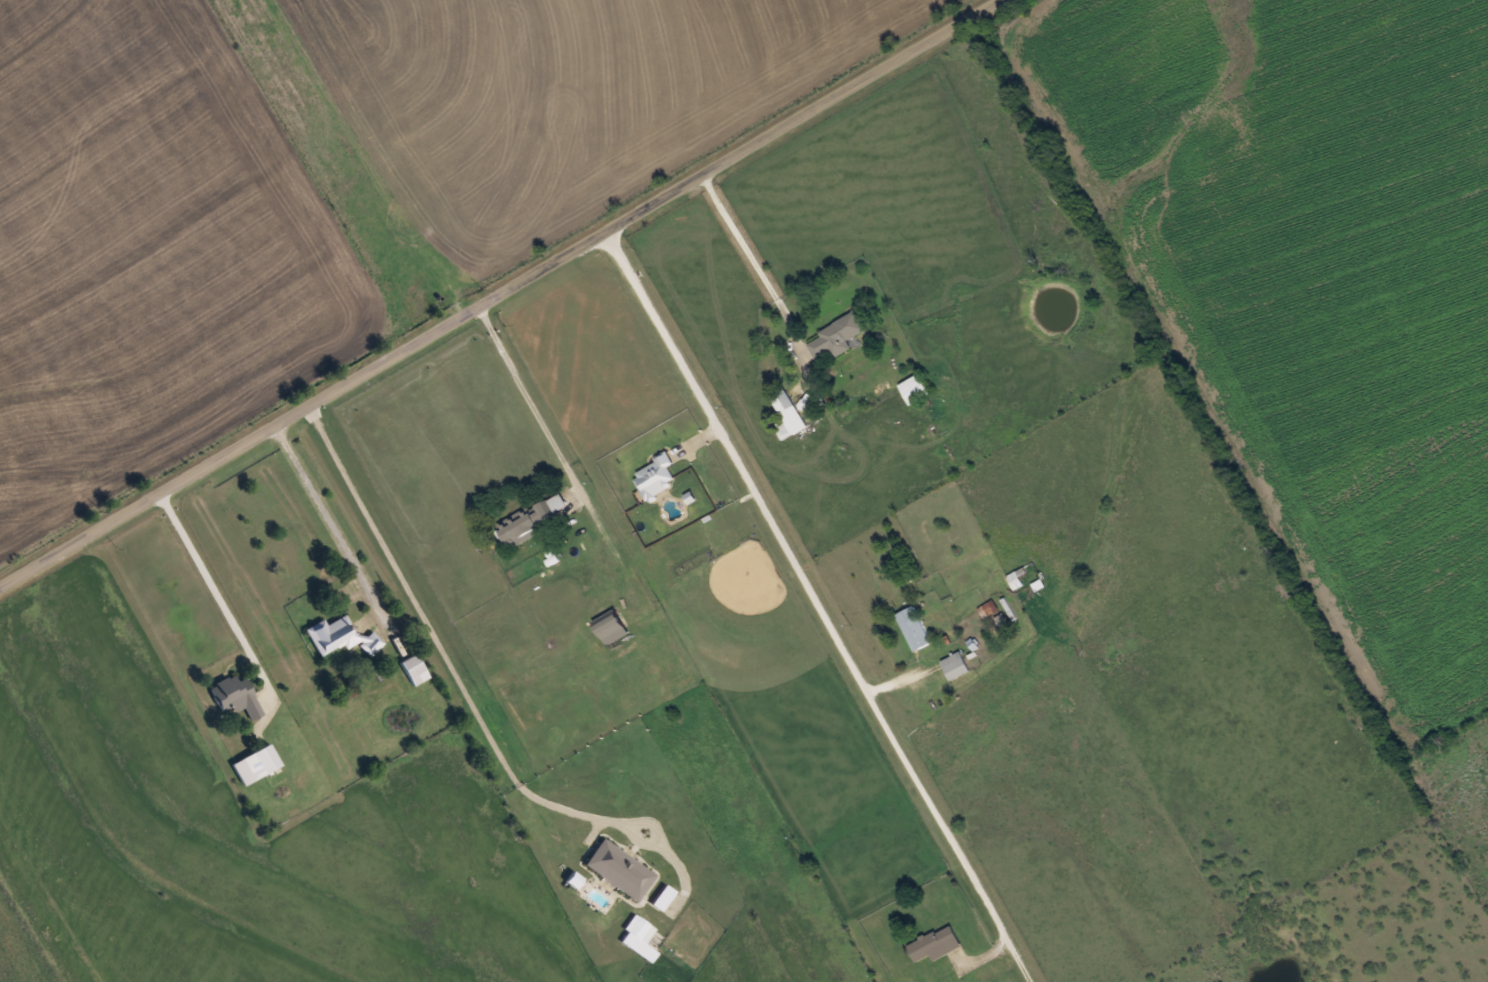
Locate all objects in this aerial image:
road: (485, 282)
building: (837, 334)
building: (915, 387)
building: (787, 413)
building: (657, 474)
building: (532, 518)
building: (1016, 578)
building: (1031, 589)
road: (820, 602)
building: (914, 627)
building: (612, 628)
building: (339, 636)
building: (956, 664)
building: (412, 668)
building: (234, 695)
building: (255, 764)
building: (936, 943)

